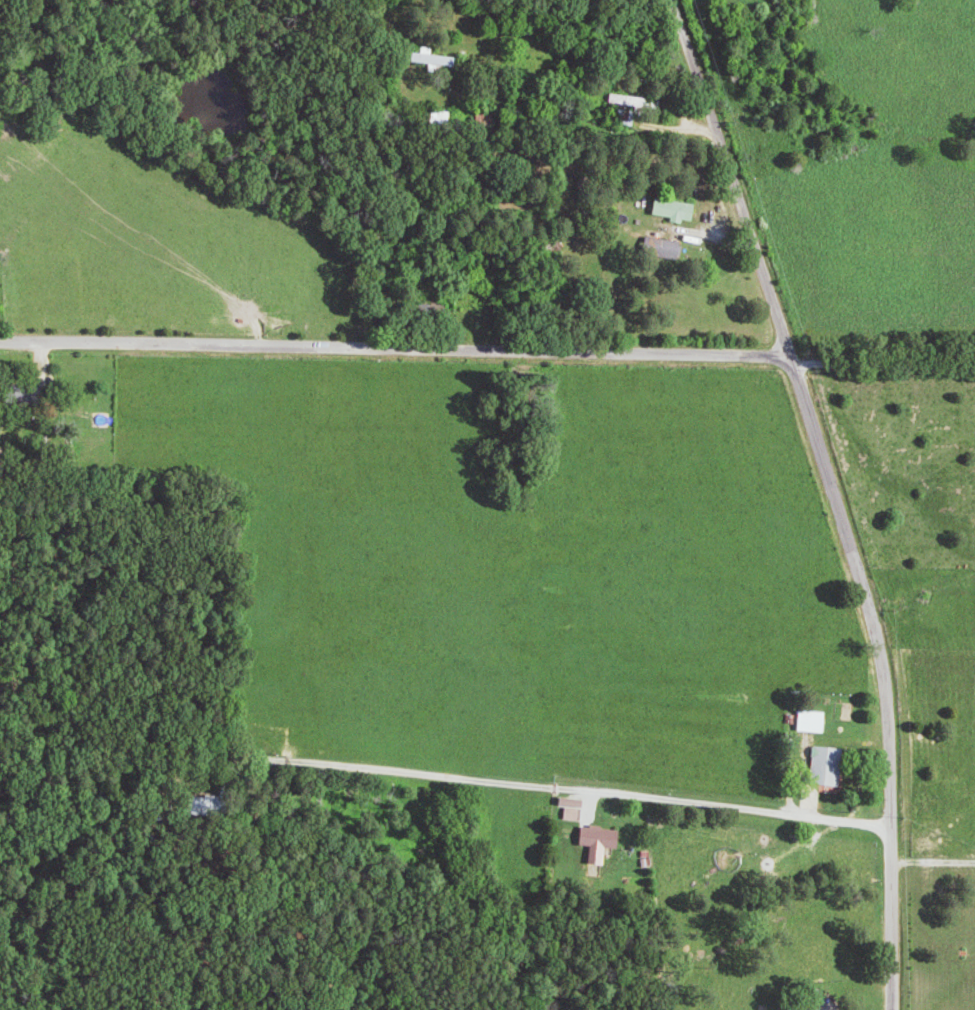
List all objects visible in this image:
road: (577, 37)
building: (640, 100)
building: (682, 209)
building: (671, 248)
road: (394, 347)
road: (881, 360)
road: (807, 409)
building: (814, 720)
building: (827, 765)
road: (577, 786)
building: (573, 807)
building: (600, 840)
road: (890, 920)

